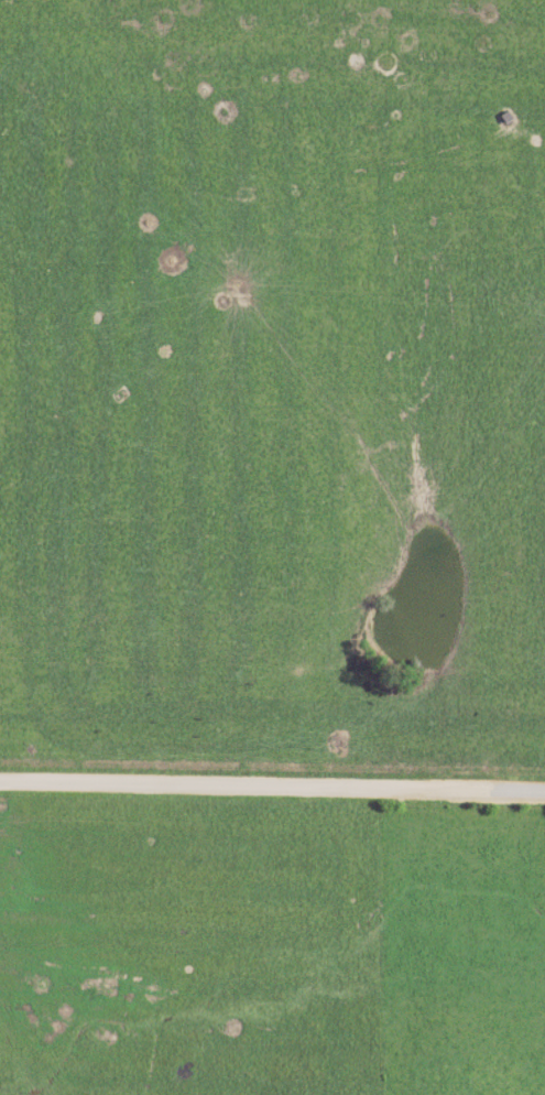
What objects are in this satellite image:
road: (272, 785)

